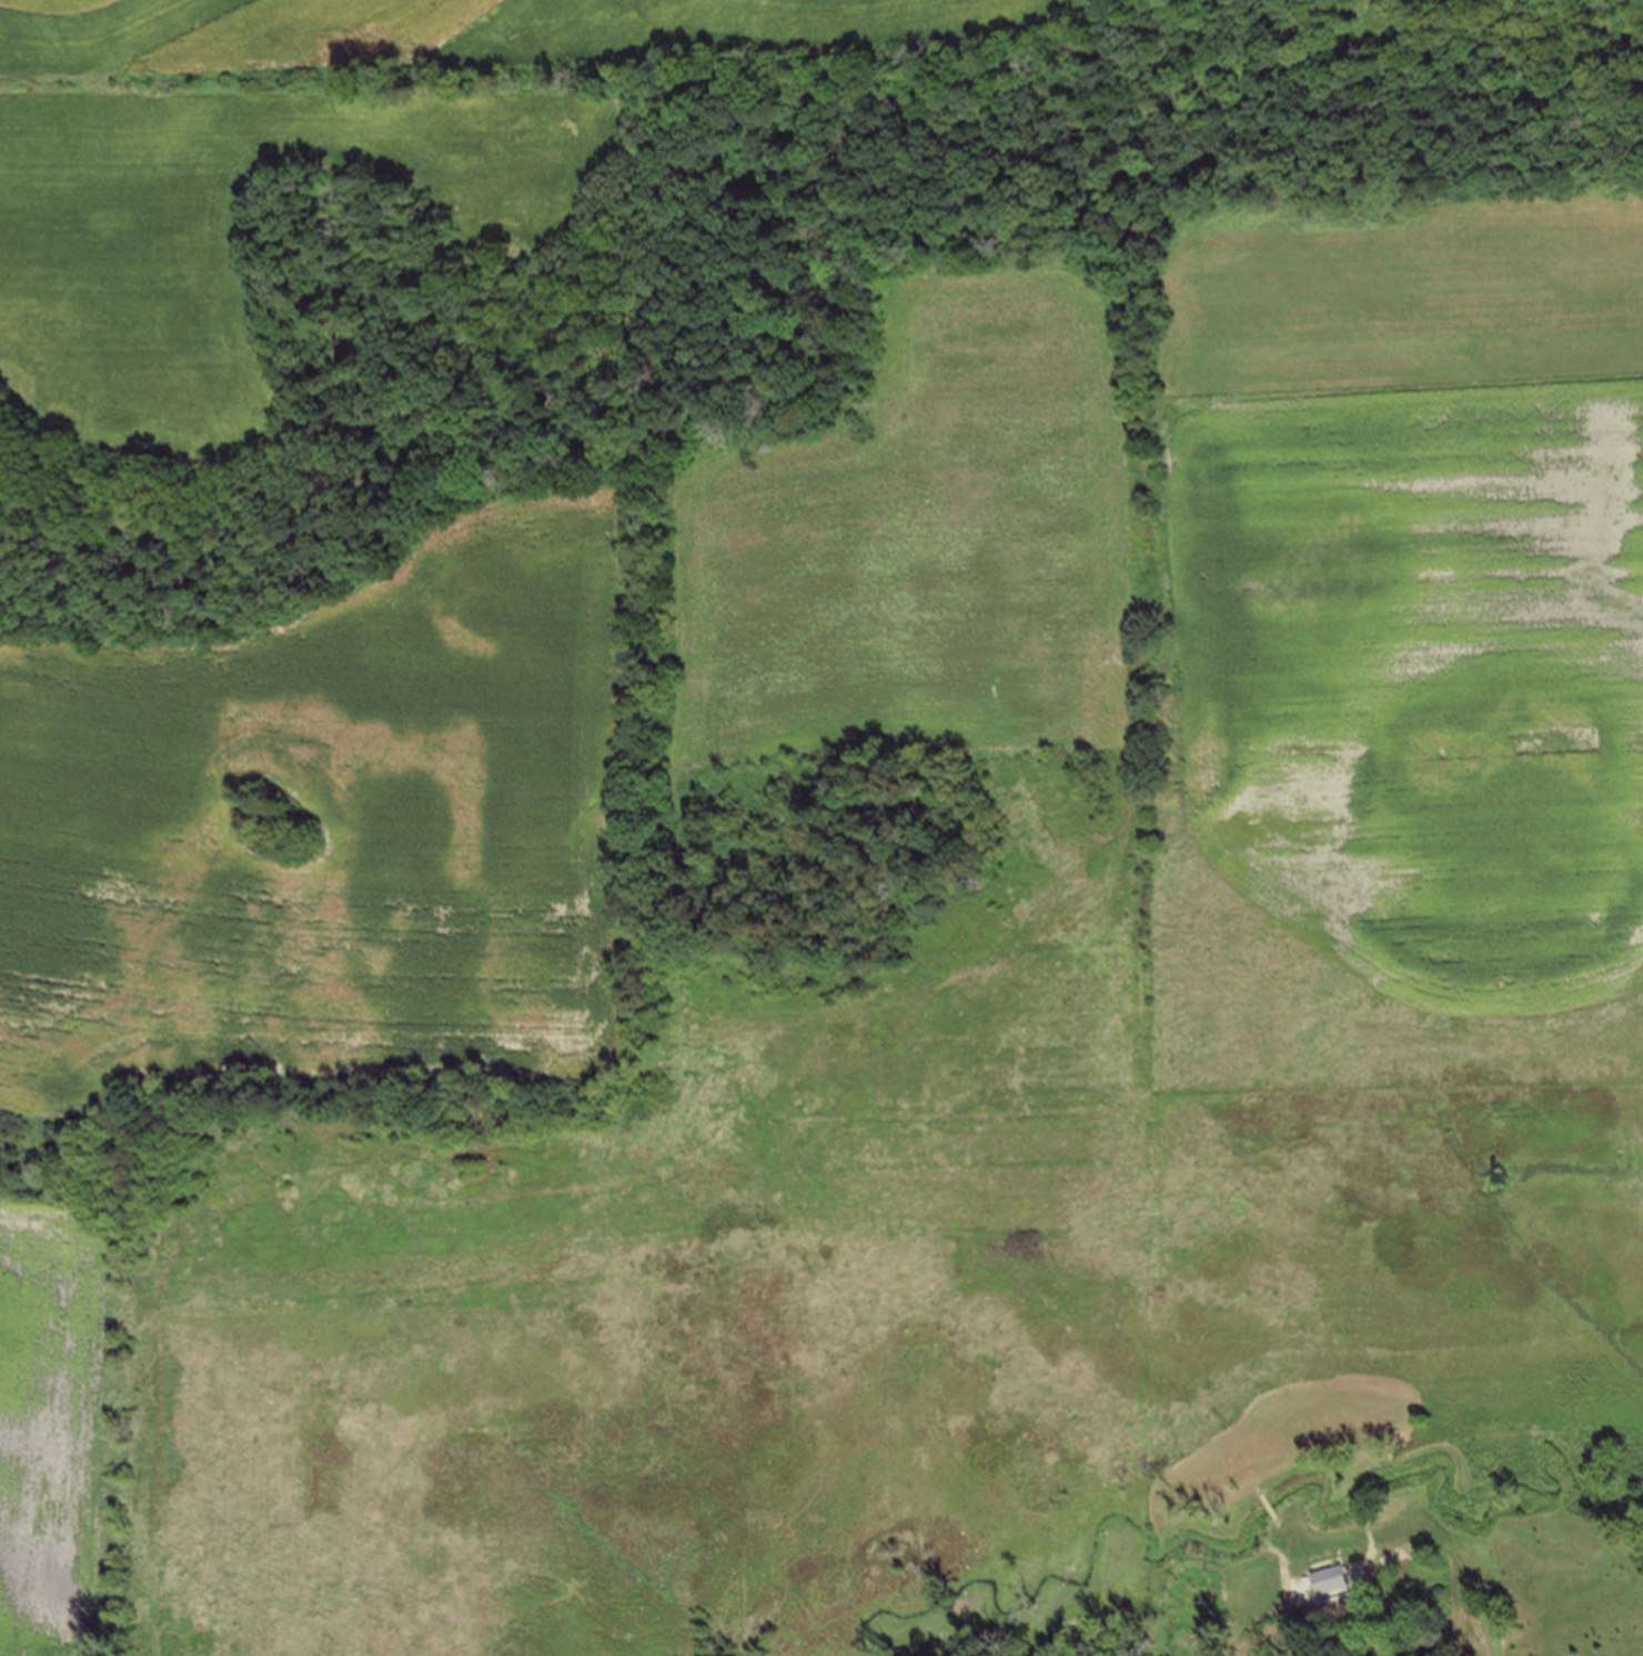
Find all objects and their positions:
road: (1568, 20)
building: (1324, 1580)

